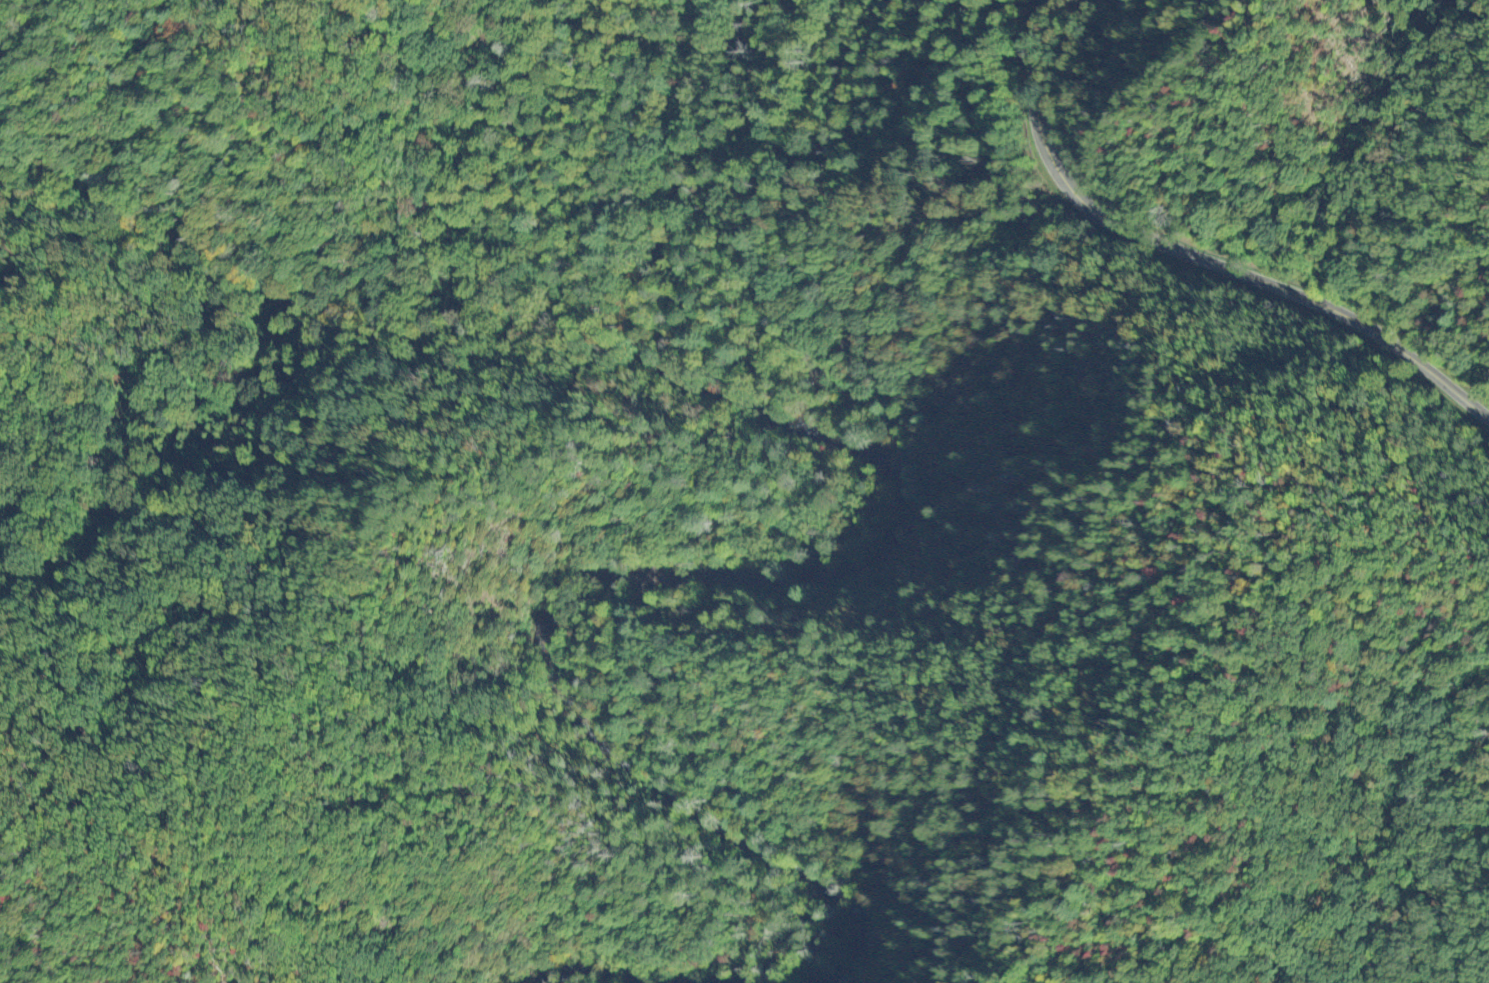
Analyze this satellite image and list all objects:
road: (1191, 257)

